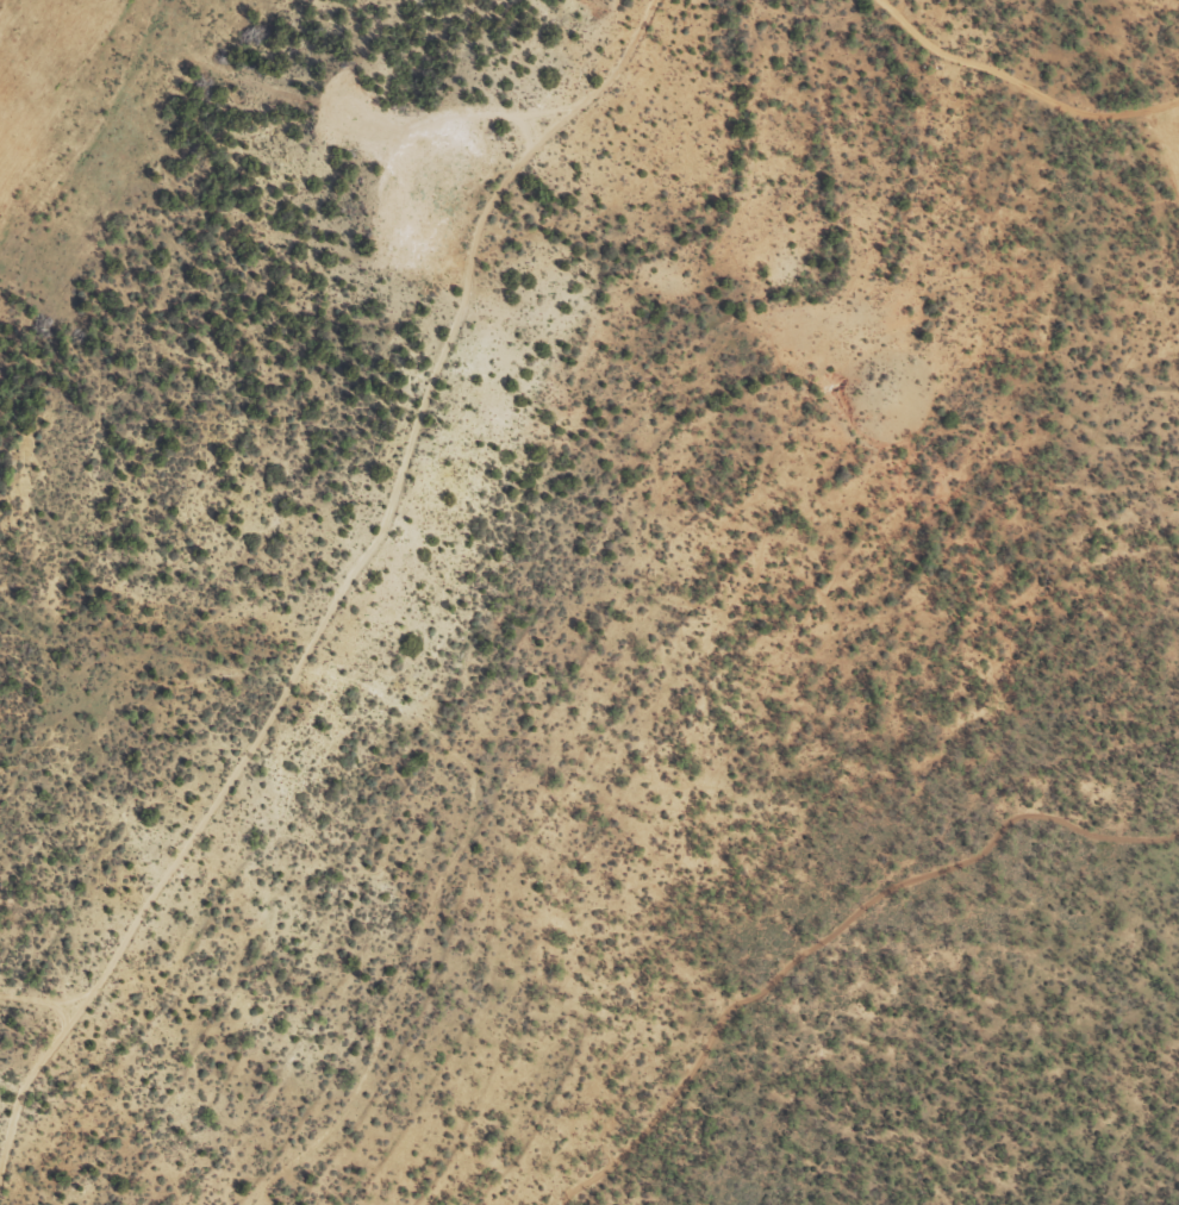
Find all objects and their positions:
road: (1025, 71)
road: (339, 607)
road: (851, 936)

